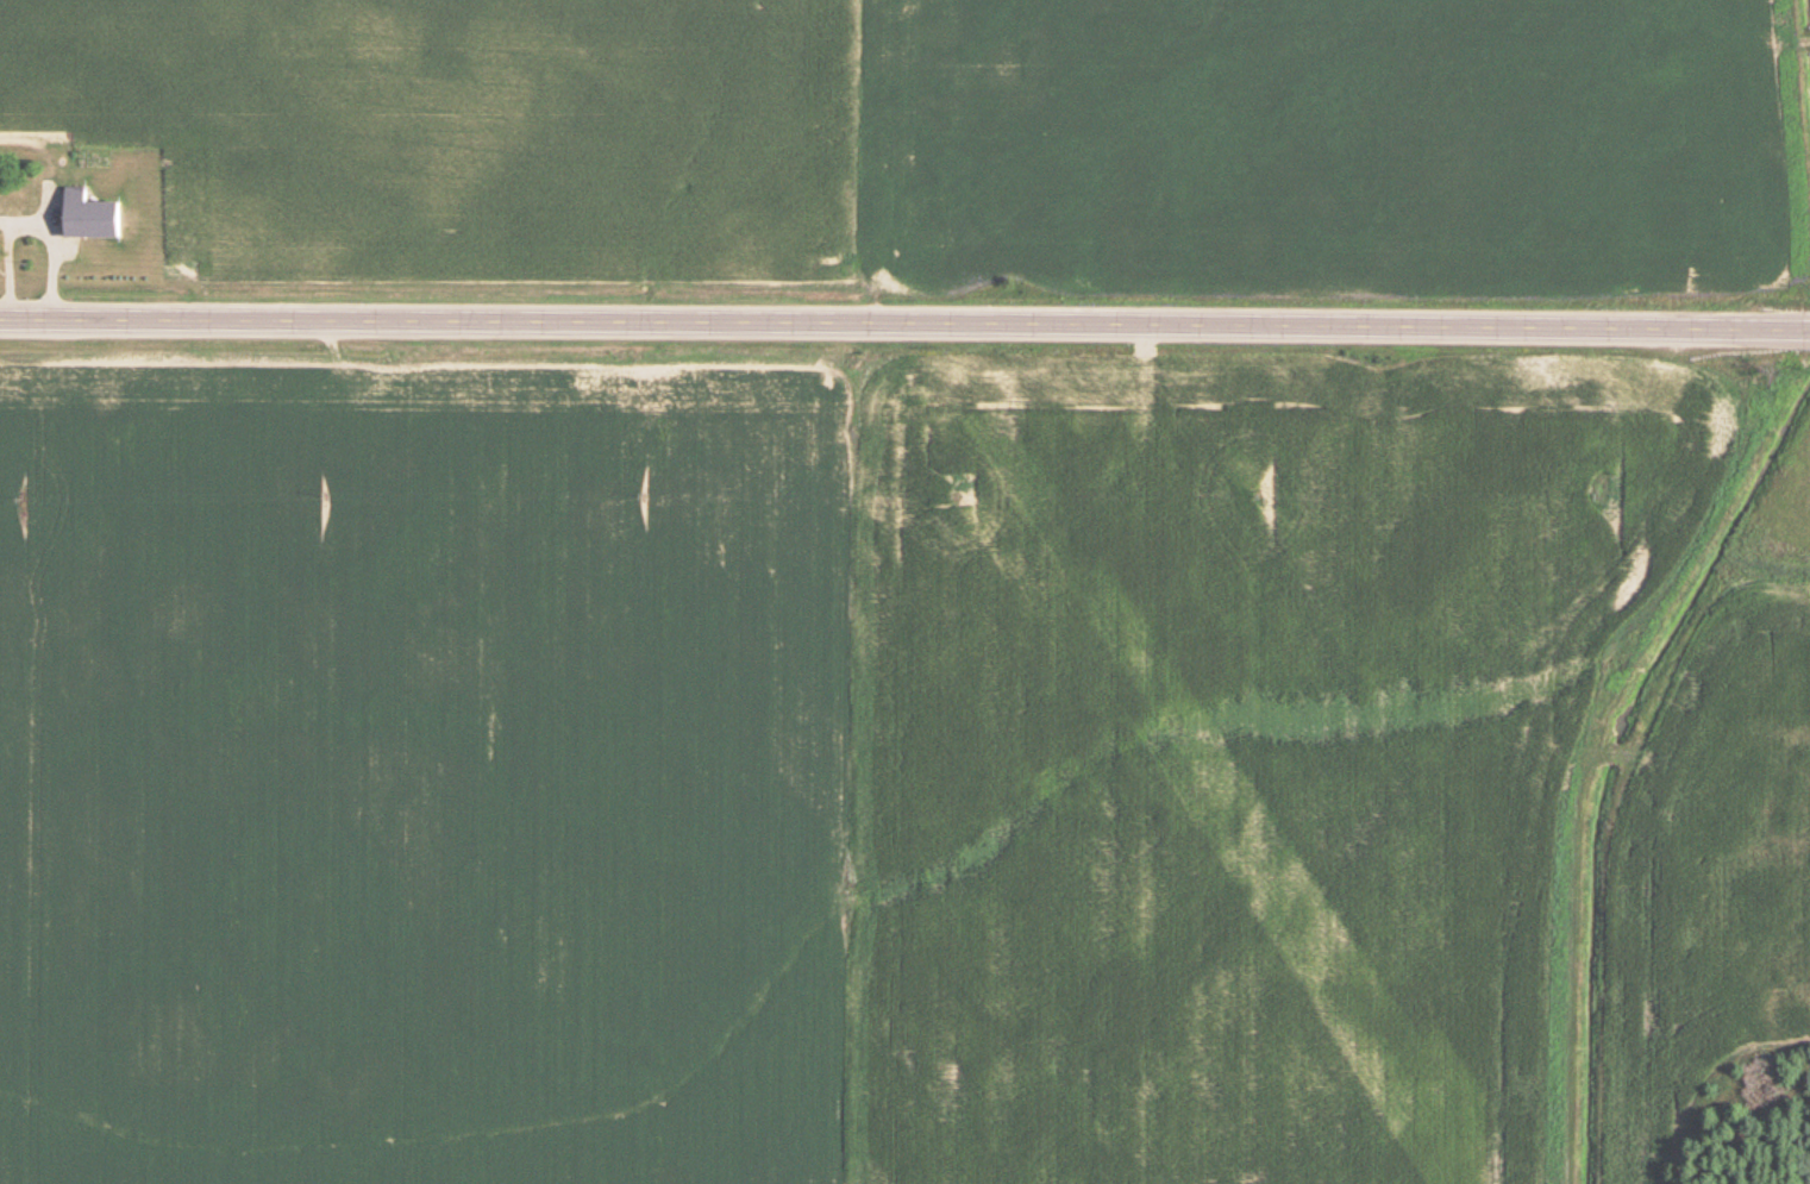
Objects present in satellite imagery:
building: (96, 212)
road: (904, 324)

